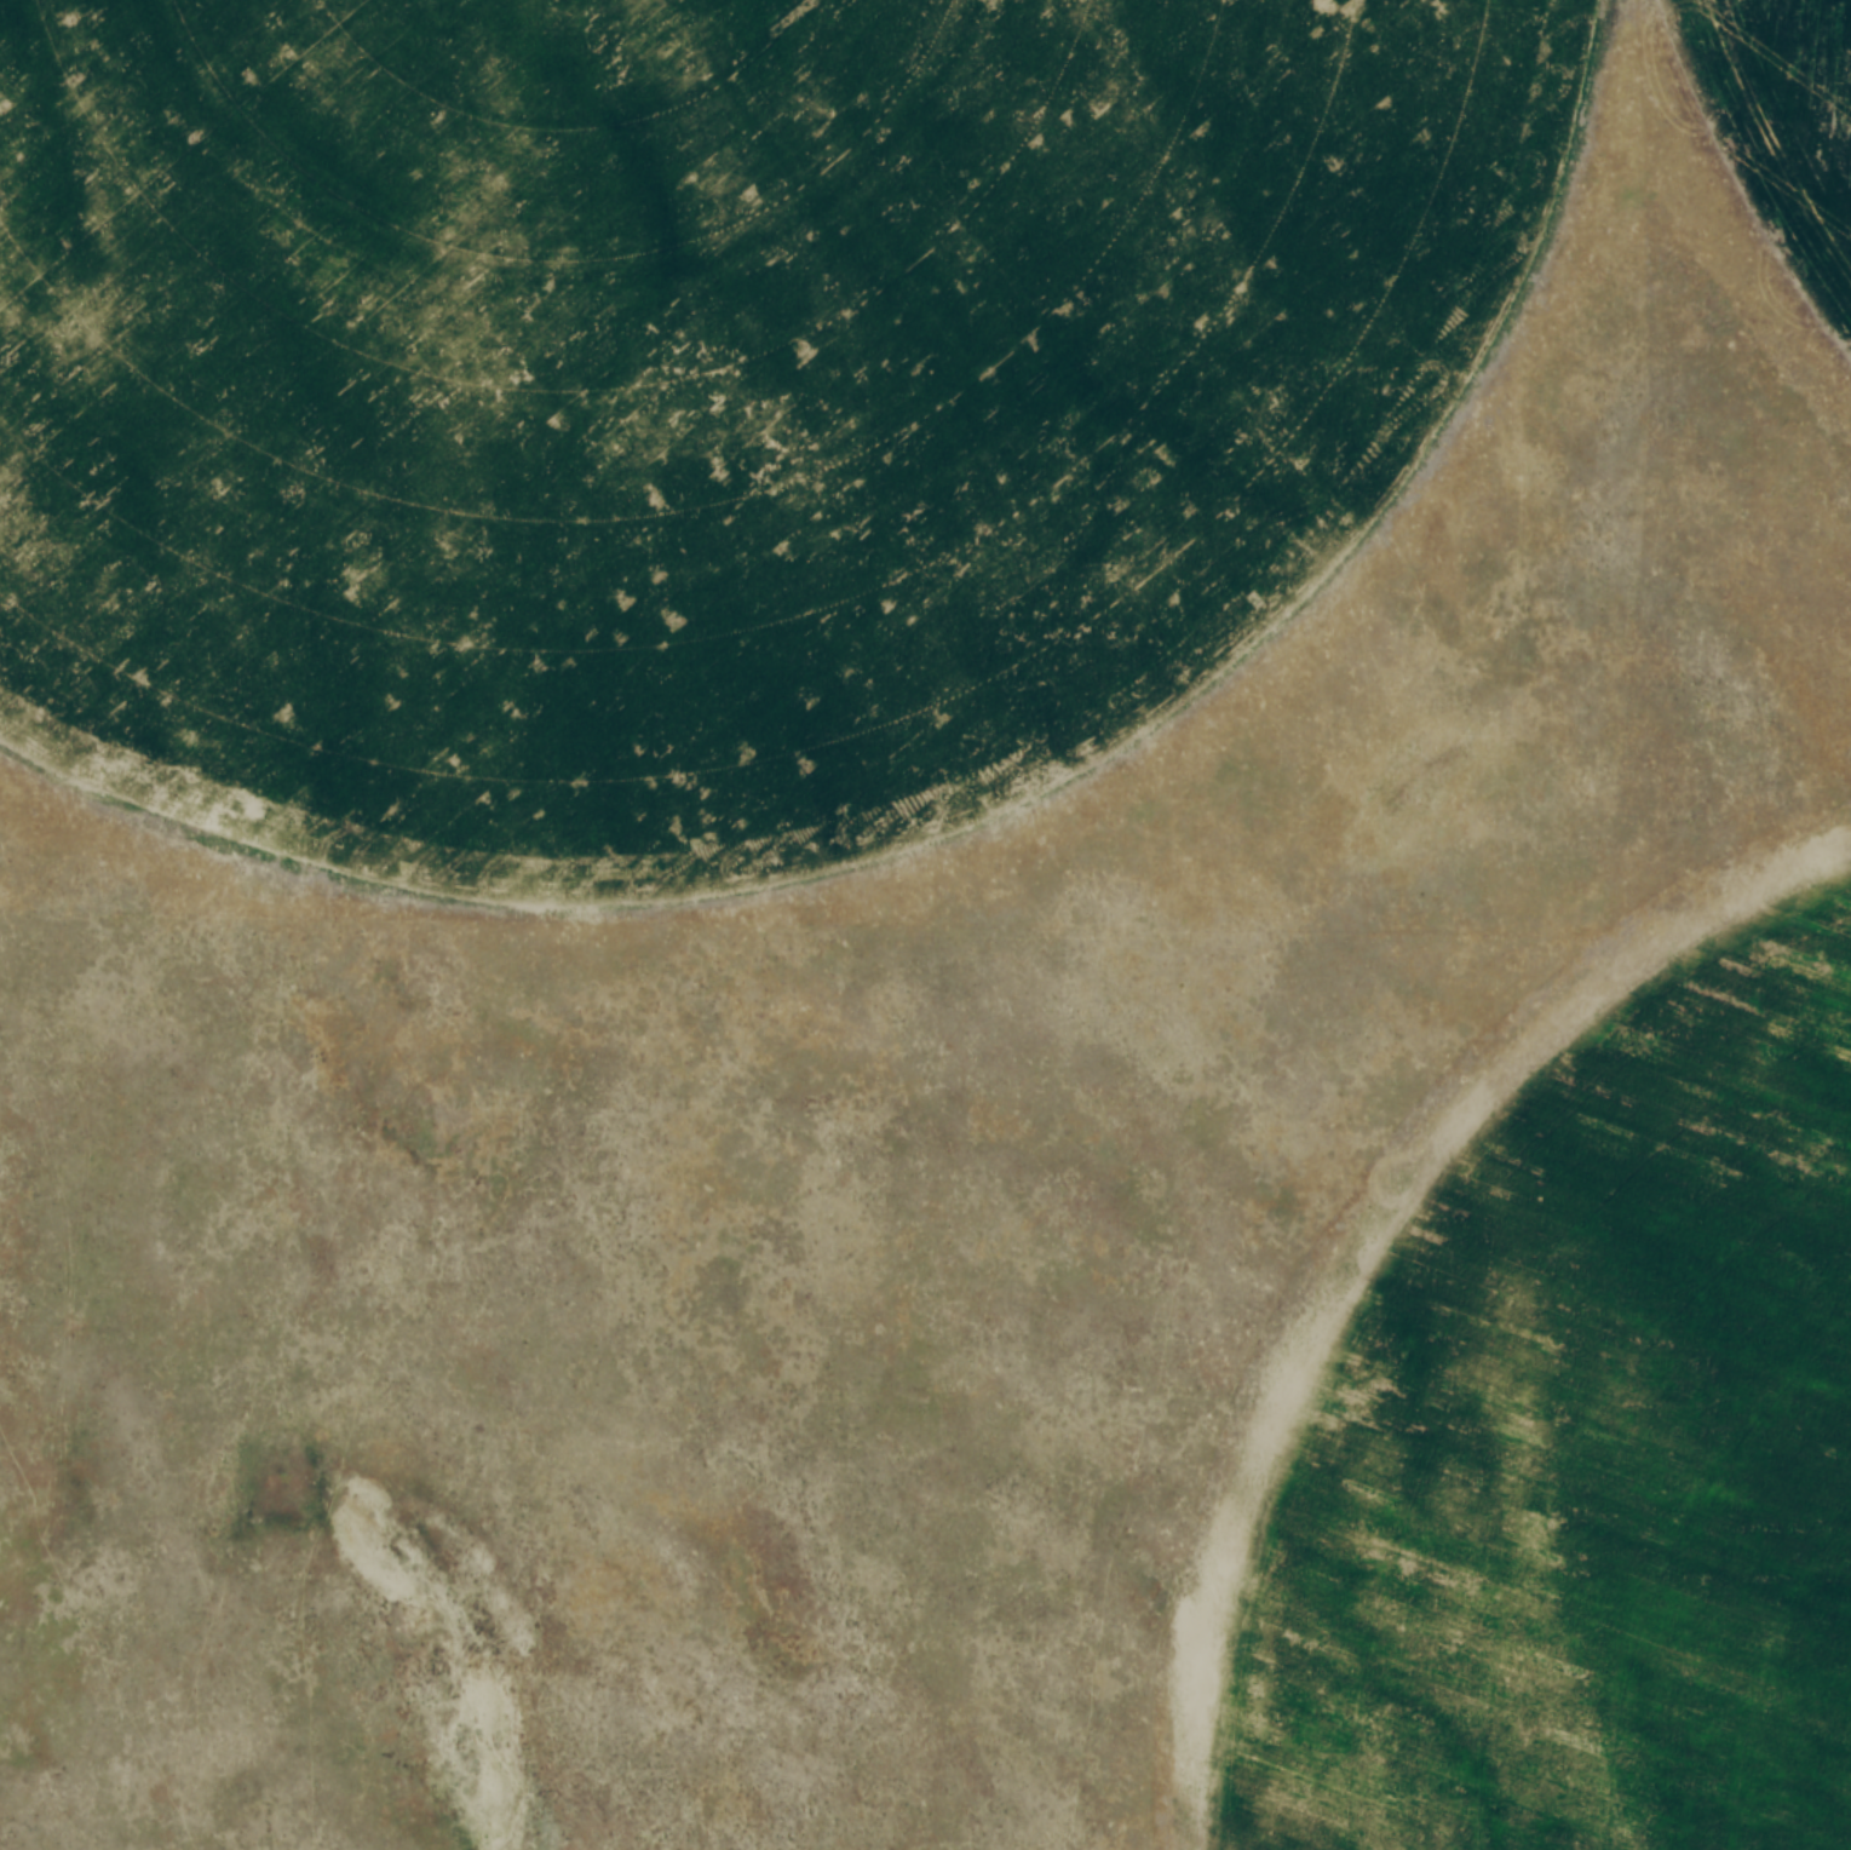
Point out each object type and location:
crop: (1780, 134)
crop: (708, 401)
crop: (1565, 1443)

